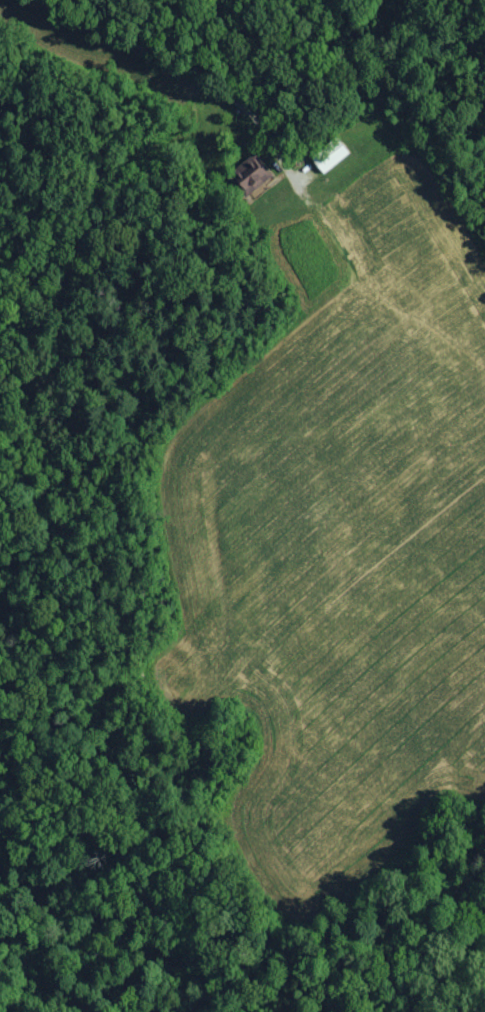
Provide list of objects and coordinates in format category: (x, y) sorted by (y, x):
road: (195, 79)
building: (257, 177)

